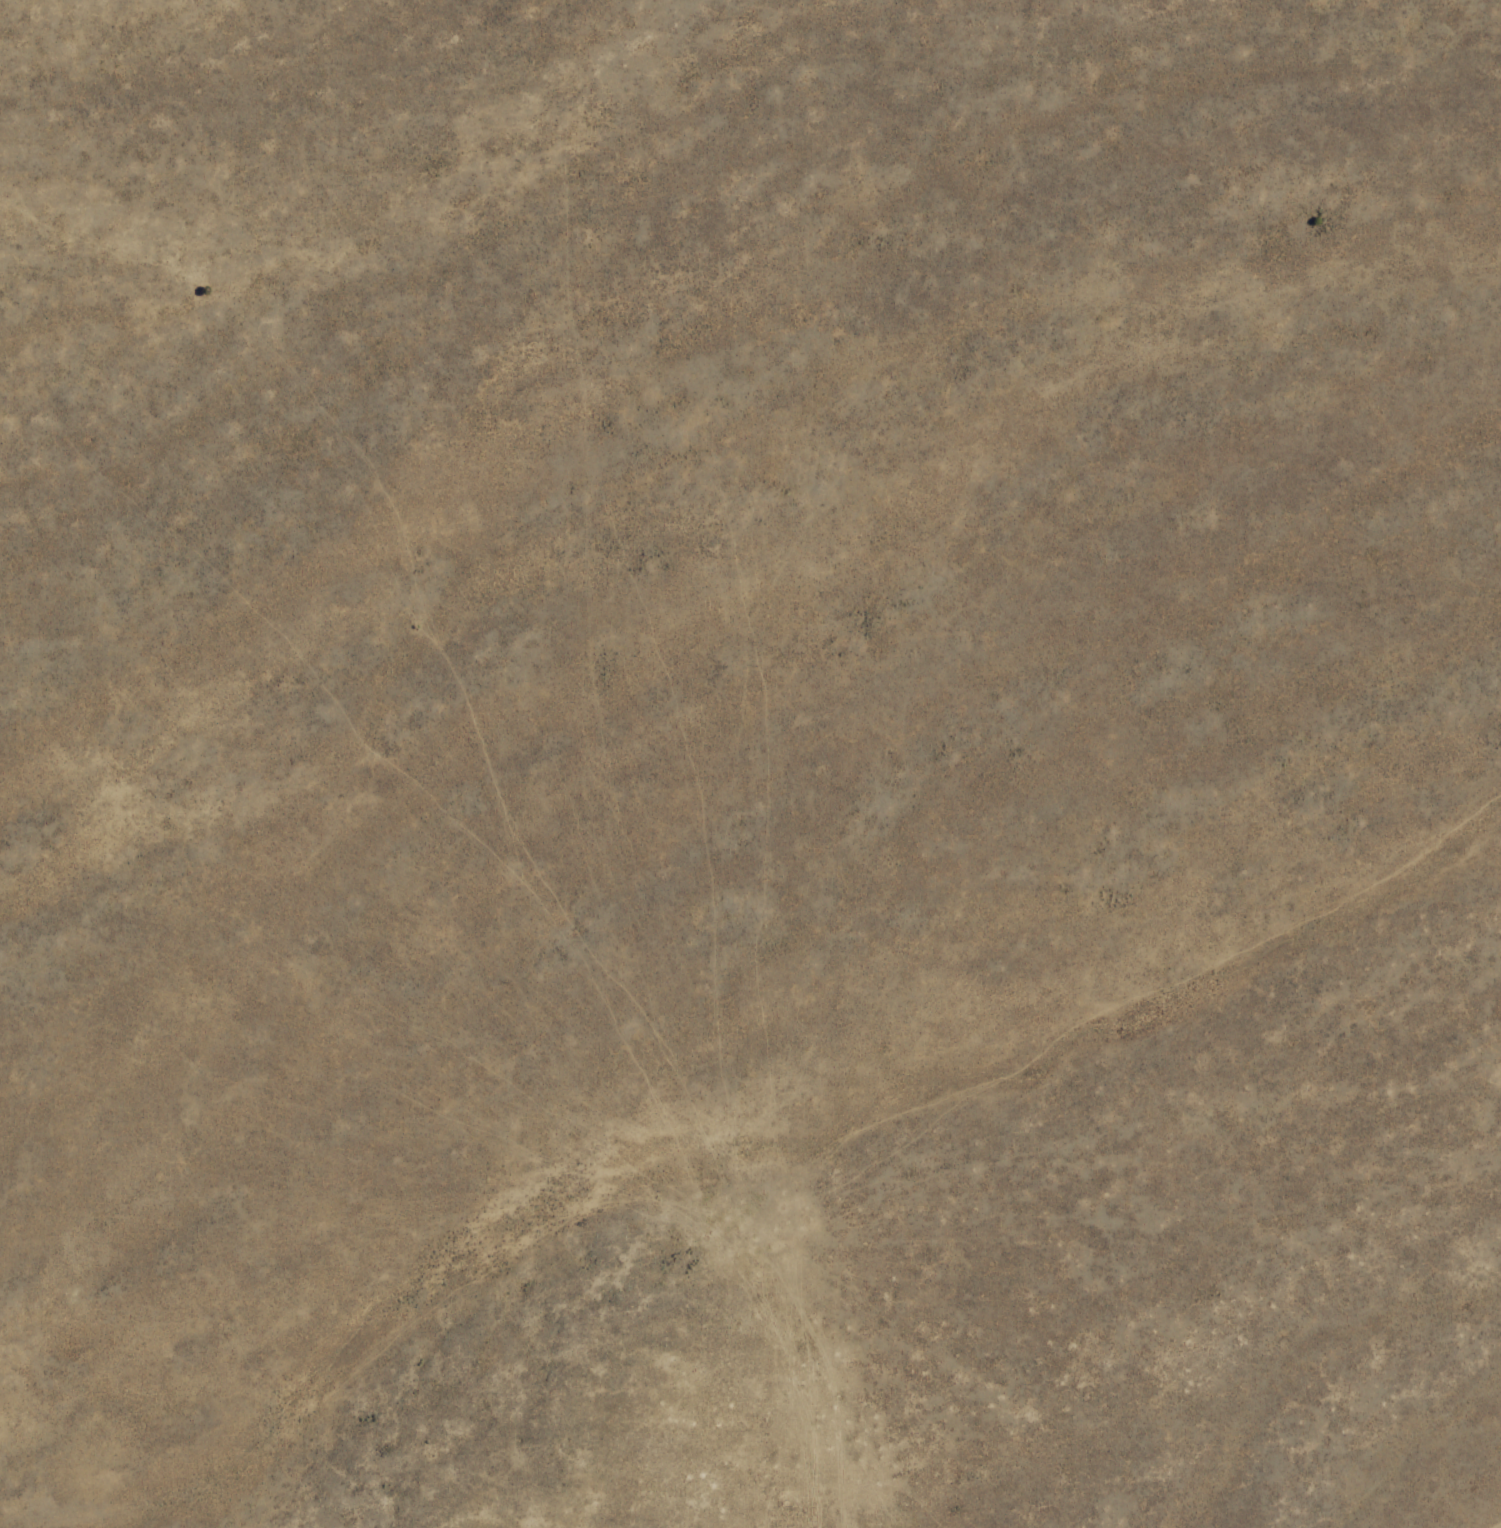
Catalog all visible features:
road: (1481, 1514)

